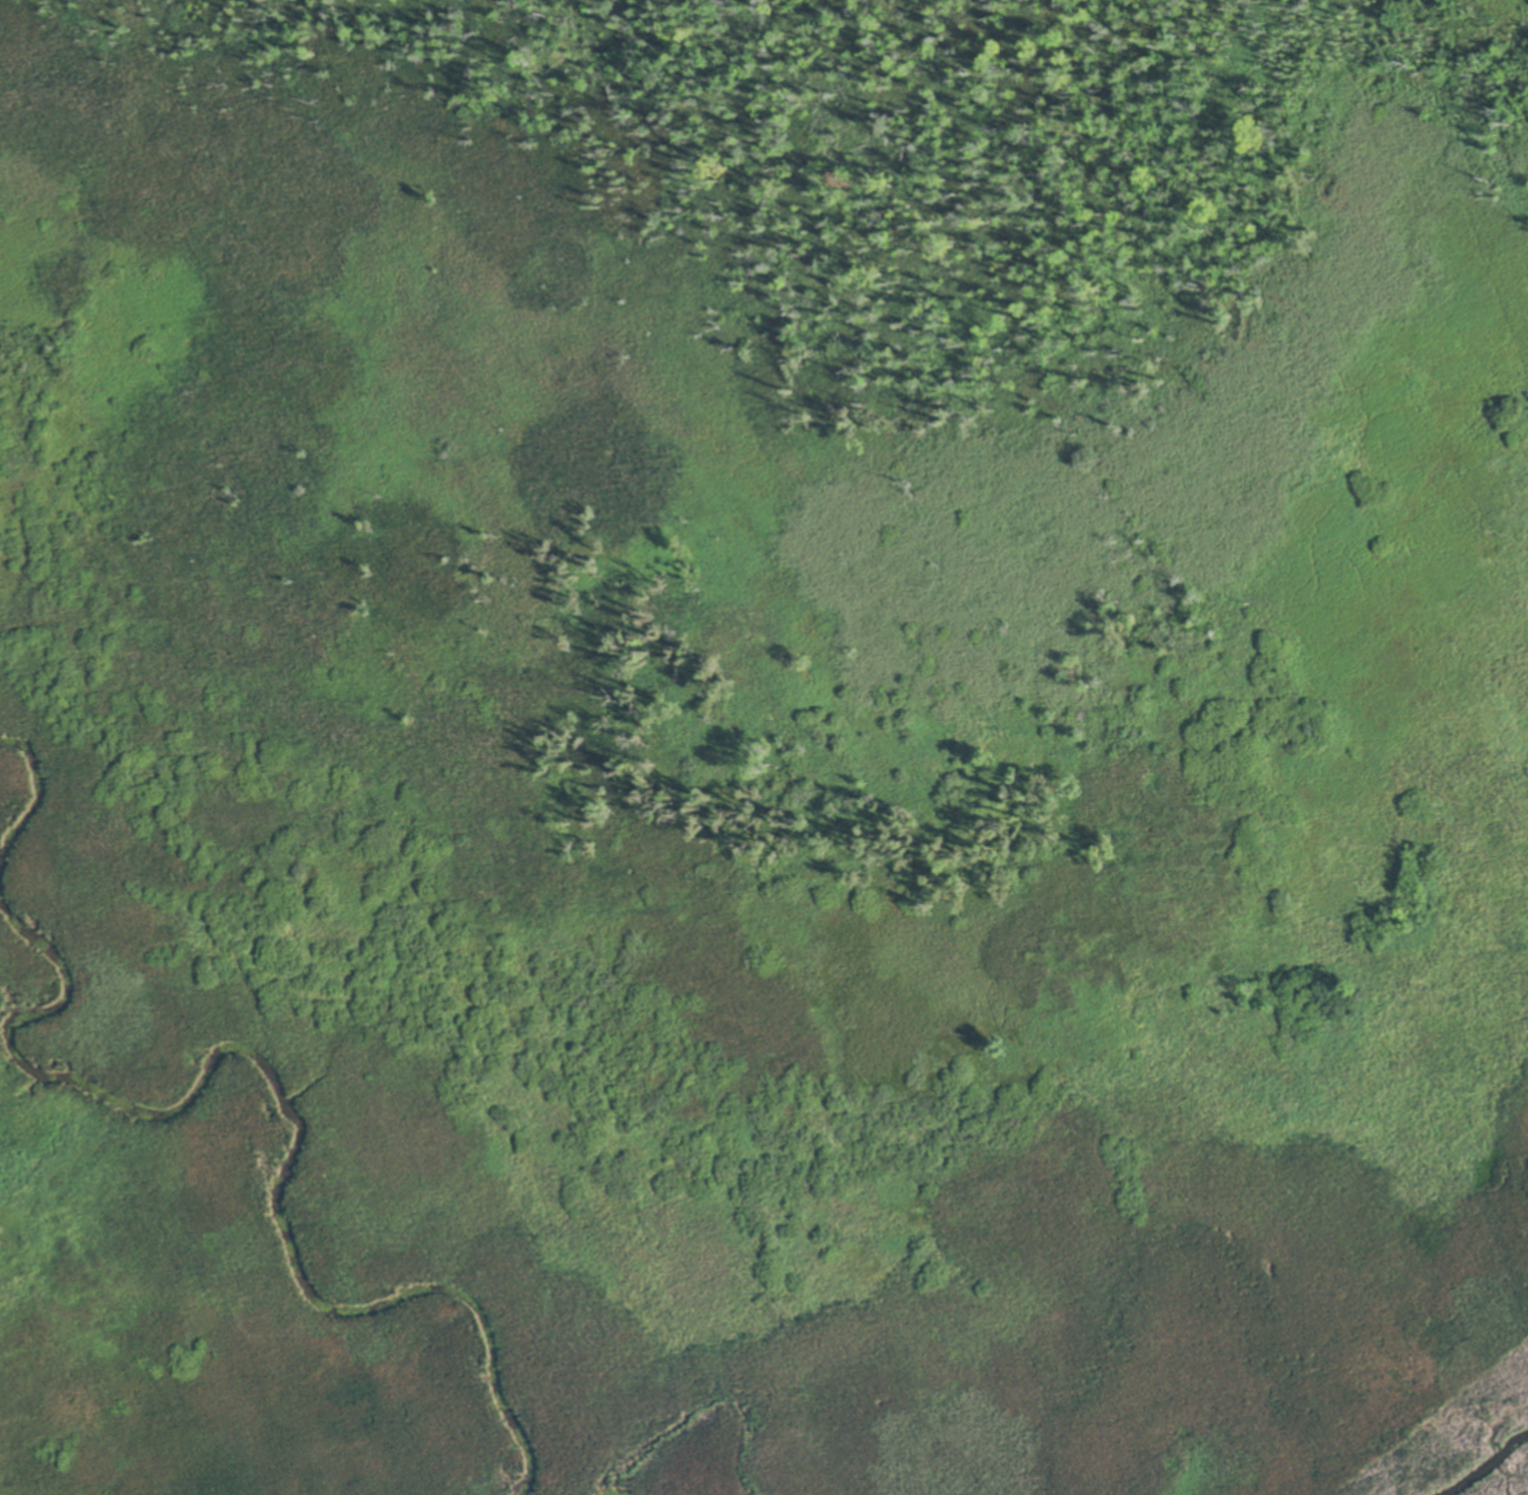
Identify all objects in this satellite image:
river: (1486, 1466)

